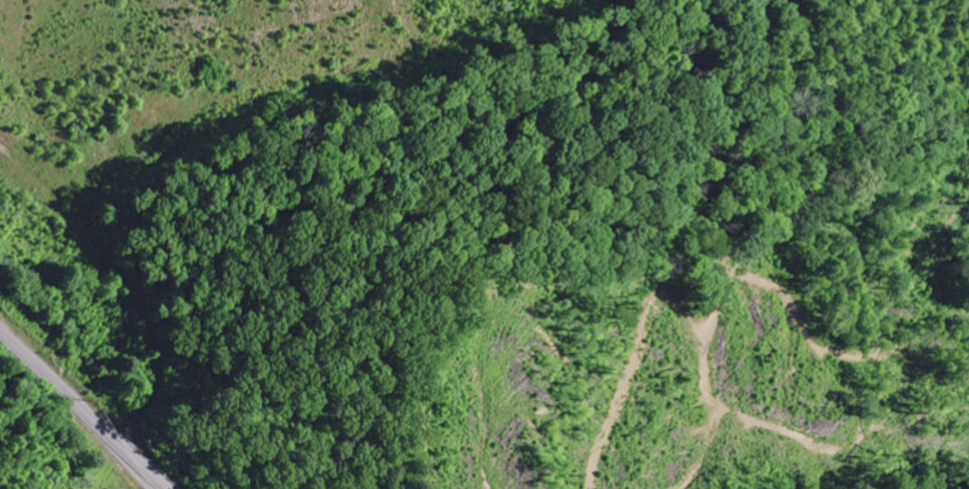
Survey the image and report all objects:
road: (85, 405)

